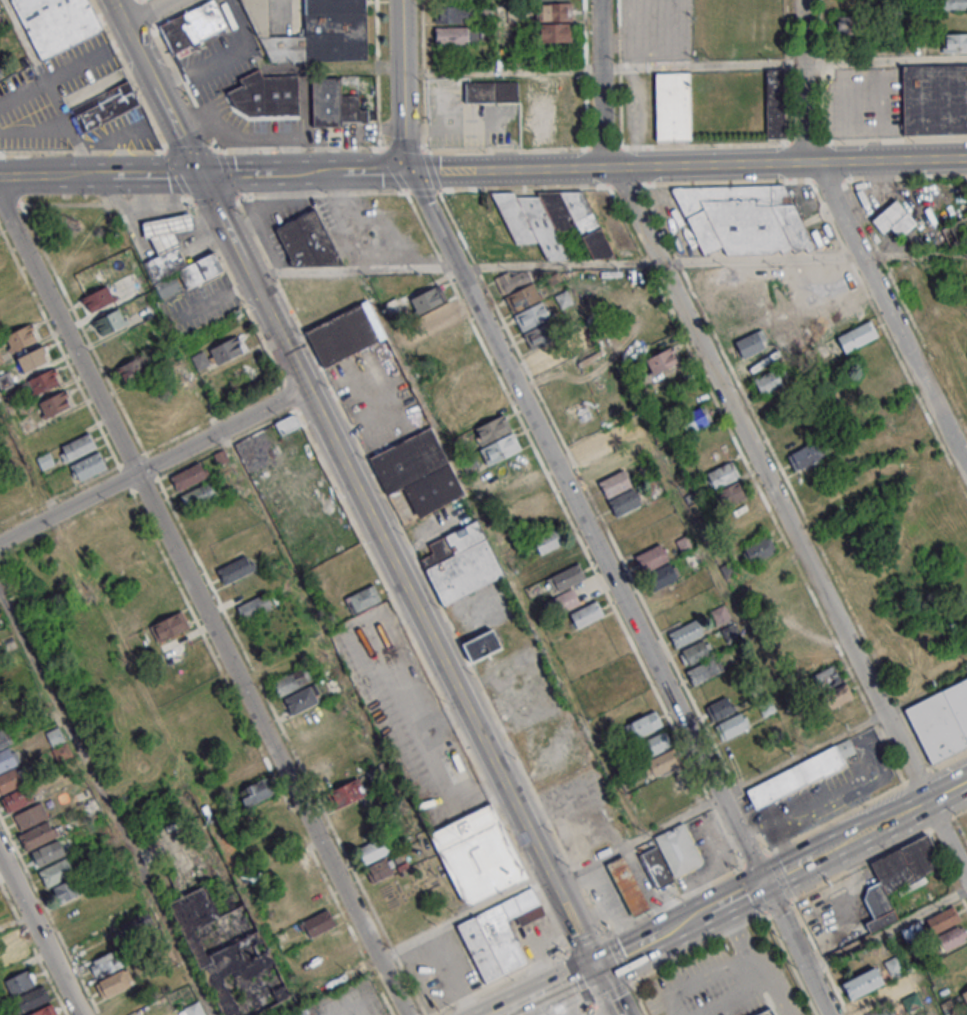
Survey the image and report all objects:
building: (954, 4)
building: (845, 6)
building: (486, 10)
building: (555, 11)
road: (147, 12)
building: (455, 13)
building: (57, 23)
building: (848, 25)
building: (192, 26)
building: (757, 27)
building: (316, 32)
building: (554, 32)
building: (457, 34)
building: (954, 42)
road: (884, 59)
road: (701, 65)
road: (295, 67)
road: (500, 70)
building: (0, 80)
road: (802, 81)
road: (400, 85)
road: (600, 85)
road: (49, 86)
road: (154, 88)
building: (934, 99)
building: (262, 100)
building: (103, 101)
building: (520, 103)
building: (775, 103)
building: (335, 104)
building: (672, 105)
road: (791, 162)
road: (511, 169)
traffic signals: (408, 171)
road: (379, 172)
road: (317, 174)
road: (241, 175)
road: (160, 176)
traffic signals: (199, 176)
road: (60, 177)
road: (483, 189)
road: (214, 208)
building: (744, 219)
building: (893, 219)
building: (552, 221)
building: (170, 230)
building: (955, 231)
building: (311, 240)
road: (814, 257)
building: (1, 260)
building: (76, 263)
building: (167, 263)
road: (454, 266)
building: (830, 279)
building: (86, 282)
building: (723, 287)
building: (628, 291)
building: (522, 296)
building: (427, 298)
building: (563, 298)
building: (97, 299)
building: (533, 315)
road: (887, 317)
building: (436, 318)
building: (108, 323)
building: (540, 333)
building: (342, 335)
building: (857, 335)
building: (22, 336)
building: (446, 336)
building: (751, 343)
building: (227, 349)
building: (547, 354)
building: (32, 359)
building: (662, 359)
building: (130, 369)
building: (764, 372)
building: (465, 373)
building: (44, 381)
building: (474, 391)
building: (53, 404)
building: (695, 419)
building: (287, 423)
building: (906, 426)
building: (493, 428)
building: (77, 447)
building: (500, 448)
building: (710, 452)
building: (601, 455)
building: (805, 455)
road: (153, 464)
building: (88, 466)
building: (511, 466)
building: (418, 471)
building: (722, 474)
building: (189, 475)
building: (522, 484)
building: (619, 492)
building: (199, 494)
building: (730, 494)
building: (532, 504)
building: (741, 512)
road: (790, 519)
road: (588, 526)
building: (548, 540)
building: (760, 548)
road: (391, 556)
building: (559, 558)
building: (462, 562)
building: (657, 566)
building: (235, 569)
building: (728, 569)
building: (565, 578)
building: (363, 598)
building: (561, 602)
building: (789, 604)
building: (255, 606)
road: (208, 607)
building: (586, 613)
building: (719, 614)
building: (169, 625)
building: (729, 632)
building: (689, 633)
building: (481, 645)
building: (695, 651)
building: (818, 658)
building: (703, 671)
building: (828, 677)
building: (291, 680)
building: (837, 695)
building: (300, 700)
building: (719, 708)
building: (942, 721)
building: (643, 724)
building: (732, 725)
building: (55, 735)
building: (655, 743)
road: (805, 754)
building: (662, 763)
building: (8, 764)
building: (799, 774)
road: (833, 787)
road: (949, 790)
building: (256, 791)
building: (346, 793)
building: (15, 799)
road: (108, 801)
building: (30, 816)
road: (876, 827)
road: (786, 841)
building: (42, 843)
building: (374, 849)
building: (681, 849)
building: (478, 855)
road: (881, 855)
building: (658, 867)
road: (794, 868)
building: (382, 869)
building: (56, 872)
building: (898, 877)
traffic signals: (768, 883)
building: (630, 886)
building: (64, 891)
road: (744, 895)
road: (782, 906)
road: (466, 916)
road: (701, 918)
building: (943, 919)
road: (574, 921)
building: (318, 923)
road: (43, 930)
road: (889, 931)
building: (913, 932)
building: (499, 934)
building: (952, 937)
building: (8, 943)
road: (530, 943)
road: (700, 947)
road: (641, 948)
road: (800, 949)
building: (230, 955)
building: (955, 957)
road: (415, 960)
building: (334, 962)
building: (106, 963)
traffic signals: (601, 968)
road: (726, 968)
road: (451, 974)
building: (873, 977)
building: (20, 981)
road: (777, 981)
building: (115, 983)
road: (555, 989)
road: (612, 991)
road: (613, 992)
road: (735, 995)
building: (965, 995)
road: (642, 997)
building: (32, 998)
road: (569, 1000)
road: (580, 1008)
road: (598, 1008)
building: (45, 1011)
road: (617, 1012)
building: (766, 1012)
road: (506, 1013)
road: (511, 1013)
building: (294, 1014)

